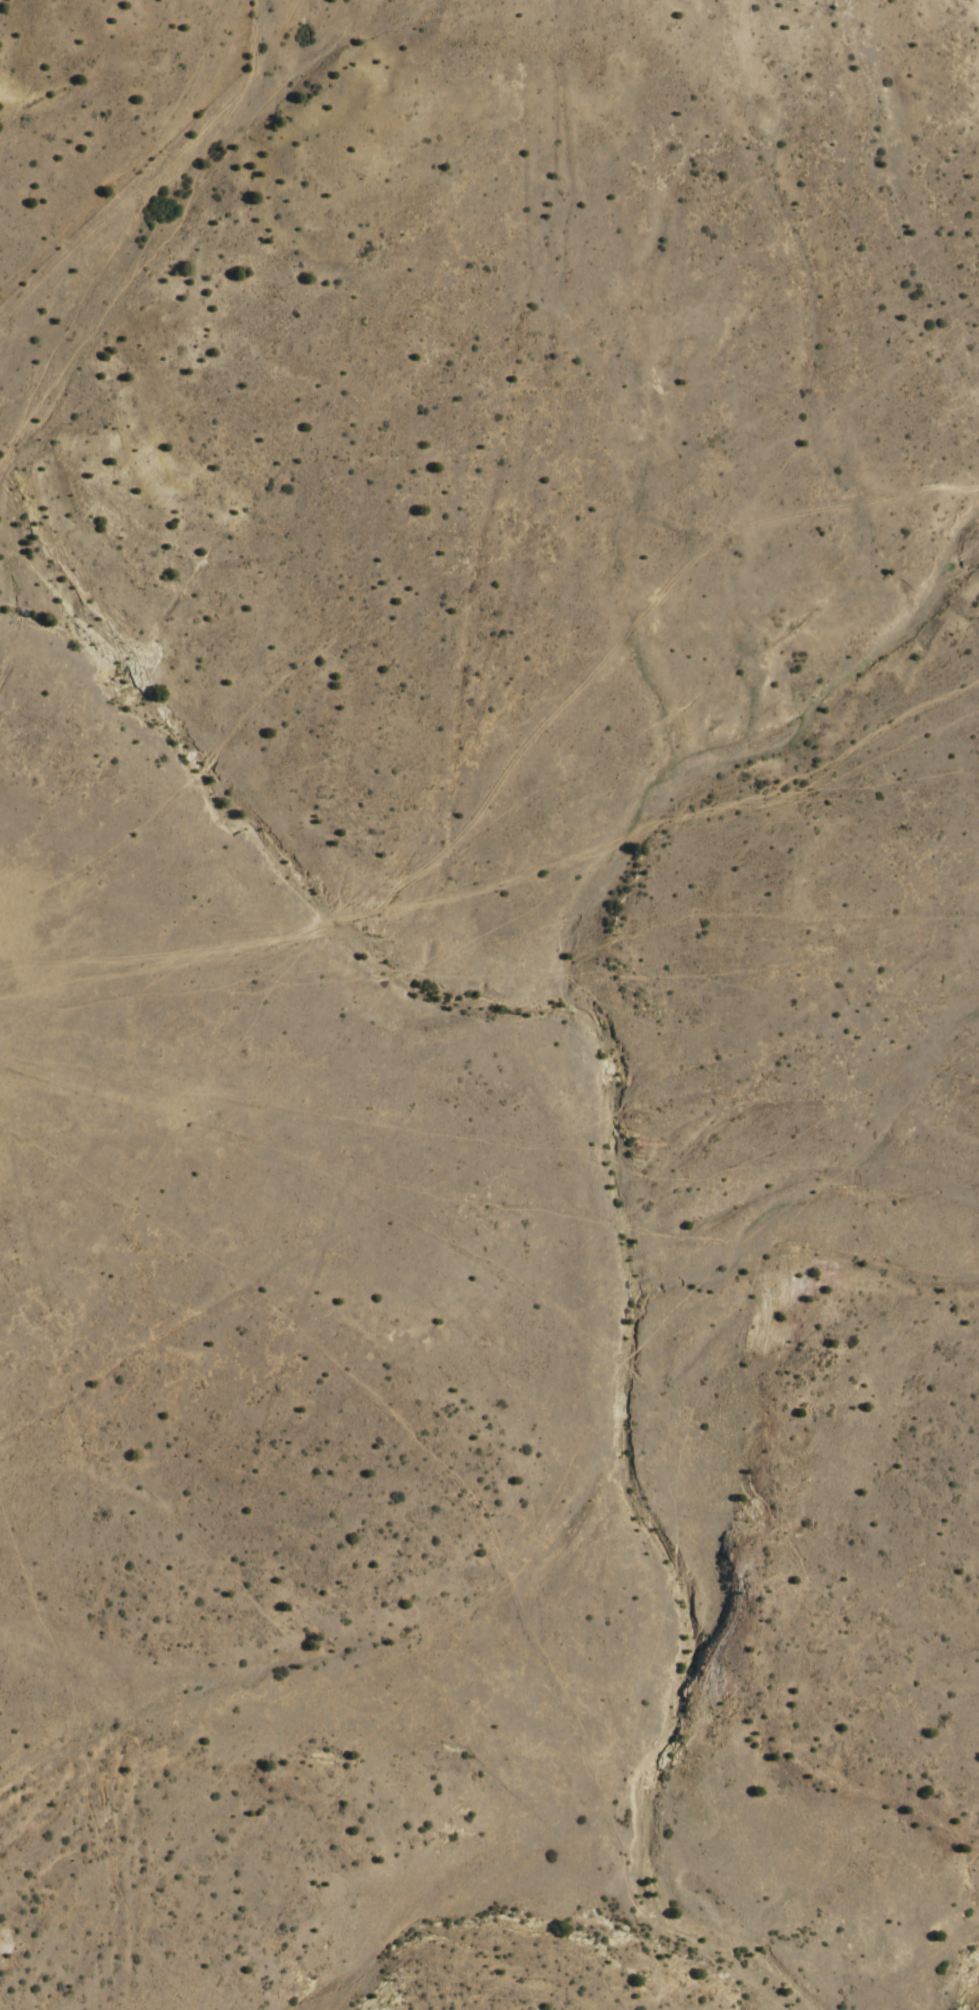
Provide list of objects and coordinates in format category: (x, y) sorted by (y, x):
road: (200, 233)
road: (500, 548)
road: (537, 1620)

